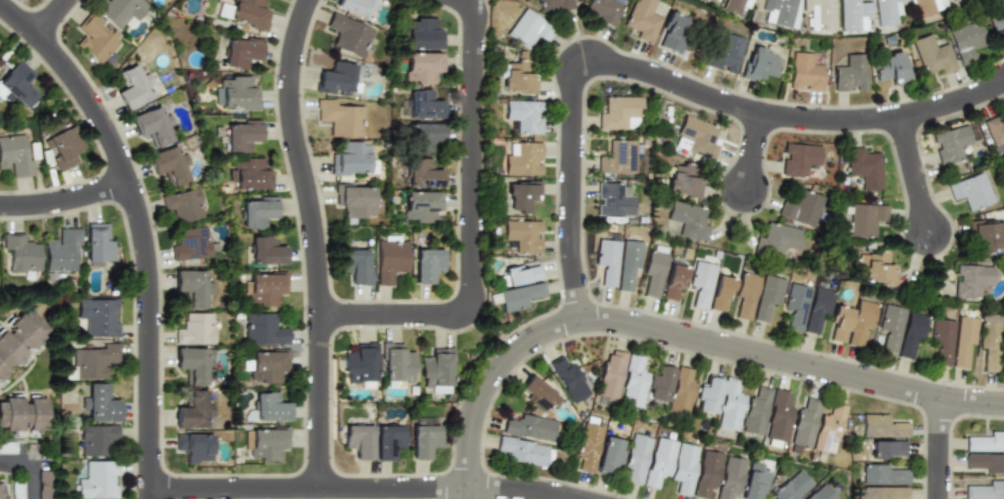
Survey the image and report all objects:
building: (553, 4)
building: (735, 5)
building: (356, 6)
building: (927, 7)
building: (121, 10)
building: (601, 10)
building: (885, 11)
building: (778, 12)
building: (249, 13)
building: (819, 14)
building: (853, 15)
road: (52, 18)
building: (641, 19)
building: (528, 29)
building: (1002, 29)
building: (672, 31)
building: (348, 34)
building: (421, 34)
street lamp: (13, 35)
building: (95, 39)
street lamp: (570, 39)
building: (966, 41)
building: (241, 52)
street lamp: (459, 53)
building: (724, 54)
building: (932, 55)
building: (759, 65)
building: (422, 67)
building: (892, 69)
building: (804, 73)
building: (850, 73)
street lamp: (276, 76)
building: (336, 78)
building: (518, 78)
road: (666, 79)
building: (16, 85)
building: (133, 87)
street lamp: (102, 92)
building: (238, 93)
street lamp: (665, 95)
street lamp: (781, 99)
building: (423, 105)
building: (618, 112)
building: (524, 115)
building: (341, 119)
street lamp: (932, 124)
building: (151, 126)
building: (994, 130)
street lamp: (589, 134)
building: (242, 135)
building: (422, 136)
building: (698, 137)
building: (949, 143)
building: (62, 145)
road: (754, 151)
building: (14, 156)
road: (301, 156)
street lamp: (458, 156)
building: (618, 157)
building: (350, 158)
building: (798, 158)
building: (523, 160)
building: (169, 165)
building: (864, 167)
building: (250, 174)
building: (422, 174)
road: (915, 175)
street lamp: (322, 181)
building: (683, 181)
street lamp: (47, 187)
building: (970, 191)
building: (523, 195)
building: (391, 199)
building: (612, 199)
building: (354, 200)
road: (65, 201)
building: (183, 205)
building: (421, 206)
building: (800, 208)
building: (257, 212)
street lamp: (765, 212)
street lamp: (123, 217)
building: (865, 218)
building: (687, 219)
road: (142, 228)
road: (472, 228)
building: (985, 233)
building: (522, 235)
building: (776, 239)
building: (98, 243)
building: (191, 244)
street lamp: (954, 249)
building: (62, 251)
building: (265, 251)
building: (20, 252)
street lamp: (556, 257)
building: (390, 259)
building: (606, 260)
building: (427, 264)
building: (627, 264)
building: (355, 266)
building: (878, 268)
building: (653, 272)
building: (520, 275)
building: (971, 279)
building: (673, 282)
building: (700, 282)
street lamp: (456, 284)
building: (192, 287)
building: (264, 288)
building: (719, 293)
building: (744, 294)
building: (519, 296)
building: (766, 296)
building: (794, 305)
building: (816, 308)
street lamp: (305, 311)
building: (98, 317)
street lamp: (679, 318)
building: (860, 322)
building: (839, 323)
building: (890, 326)
building: (195, 329)
building: (263, 329)
street lamp: (383, 331)
road: (678, 334)
building: (910, 334)
street lamp: (606, 336)
building: (941, 340)
building: (962, 340)
building: (19, 341)
building: (989, 344)
street lamp: (166, 347)
street lamp: (488, 353)
building: (1001, 354)
building: (93, 361)
building: (360, 362)
building: (396, 362)
building: (194, 363)
street lamp: (870, 363)
building: (268, 365)
building: (436, 367)
building: (610, 374)
street lamp: (775, 376)
building: (568, 378)
building: (632, 381)
building: (658, 383)
building: (411, 390)
building: (537, 393)
building: (679, 393)
building: (707, 396)
road: (320, 402)
building: (101, 403)
street lamp: (336, 404)
building: (729, 405)
building: (269, 407)
building: (193, 411)
building: (755, 411)
building: (24, 415)
building: (778, 417)
street lamp: (968, 418)
building: (804, 422)
building: (881, 426)
building: (528, 427)
building: (827, 429)
building: (98, 439)
building: (358, 440)
building: (423, 440)
building: (387, 441)
building: (985, 442)
building: (267, 443)
building: (194, 447)
building: (588, 447)
road: (939, 447)
building: (7, 448)
building: (886, 449)
building: (521, 450)
building: (609, 454)
building: (635, 458)
street lamp: (487, 459)
street lamp: (135, 460)
building: (659, 462)
building: (985, 462)
building: (683, 467)
road: (33, 468)
street lamp: (411, 473)
building: (706, 473)
street lamp: (187, 474)
building: (882, 475)
building: (730, 478)
building: (98, 480)
street lamp: (568, 481)
building: (755, 484)
building: (791, 487)
road: (309, 489)
road: (523, 489)
building: (42, 490)
building: (1, 491)
building: (17, 491)
building: (985, 491)
building: (883, 493)
building: (820, 494)

